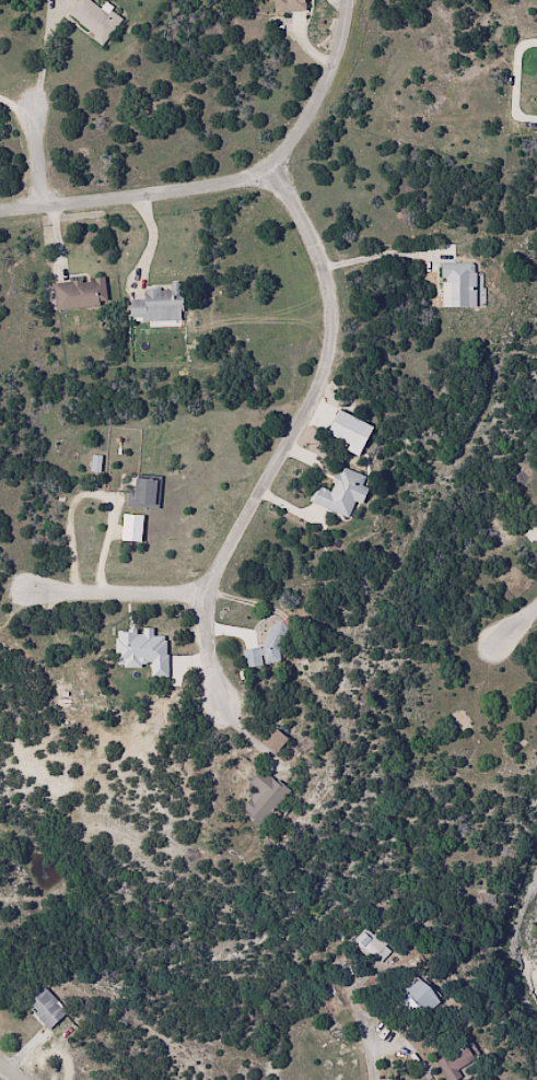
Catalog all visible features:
building: (290, 5)
building: (92, 19)
building: (535, 75)
building: (536, 119)
road: (36, 148)
road: (229, 180)
building: (457, 284)
building: (79, 294)
building: (157, 305)
road: (292, 438)
building: (143, 491)
building: (340, 492)
road: (116, 590)
road: (517, 627)
building: (267, 646)
building: (273, 739)
building: (264, 797)
building: (367, 943)
building: (420, 996)
building: (45, 1008)
road: (399, 1054)
building: (455, 1063)
road: (14, 1067)

